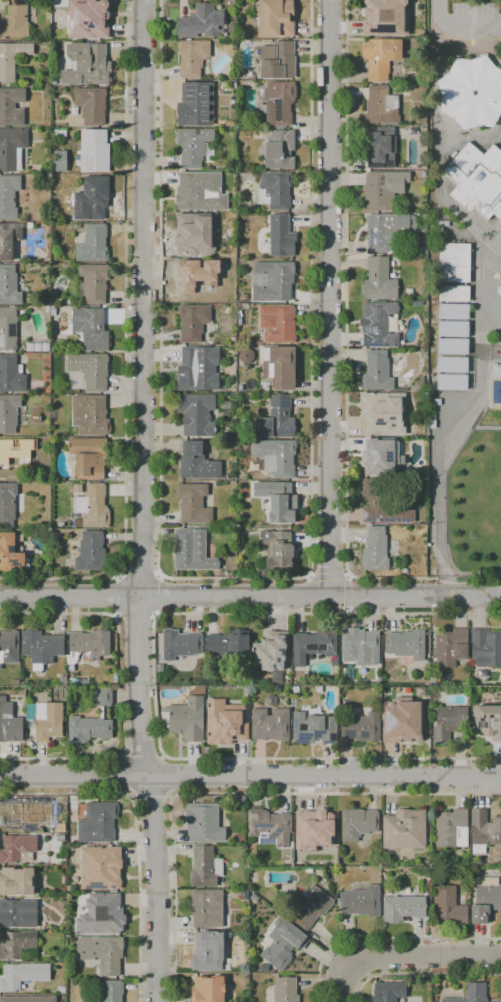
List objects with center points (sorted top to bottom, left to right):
building: (276, 18)
building: (386, 18)
building: (88, 19)
parking lot: (474, 21)
building: (14, 22)
building: (201, 22)
road: (461, 25)
building: (266, 41)
building: (192, 57)
building: (380, 57)
building: (11, 58)
building: (273, 60)
building: (87, 65)
building: (472, 92)
building: (278, 103)
building: (195, 104)
building: (91, 105)
building: (381, 106)
building: (12, 107)
rooftop solar panel: (278, 110)
building: (193, 146)
building: (379, 147)
building: (12, 148)
building: (279, 150)
building: (94, 151)
rooftop solar panel: (90, 162)
rooftop solar panel: (380, 165)
building: (477, 180)
building: (383, 189)
building: (275, 190)
building: (200, 191)
building: (8, 196)
building: (92, 198)
building: (29, 225)
building: (76, 226)
building: (387, 230)
building: (194, 234)
building: (281, 236)
building: (9, 239)
building: (93, 244)
building: (454, 262)
building: (379, 280)
building: (272, 281)
building: (93, 282)
building: (191, 282)
building: (9, 285)
building: (409, 292)
building: (453, 294)
road: (327, 297)
building: (48, 310)
building: (53, 311)
building: (453, 312)
rooftop solar panel: (81, 319)
building: (193, 321)
rooftop solar panel: (91, 322)
building: (277, 323)
building: (378, 324)
building: (91, 328)
building: (8, 329)
building: (453, 329)
rooftop solar panel: (12, 330)
rooftop solar panel: (371, 330)
rooftop solar panel: (1, 341)
rooftop solar panel: (372, 344)
rooftop solar panel: (386, 344)
building: (45, 346)
building: (453, 346)
road: (126, 347)
building: (29, 348)
building: (37, 349)
building: (246, 355)
road: (345, 364)
building: (453, 365)
building: (279, 366)
building: (198, 369)
building: (90, 370)
building: (377, 372)
building: (11, 375)
building: (451, 383)
building: (419, 386)
building: (225, 405)
building: (9, 413)
building: (384, 413)
building: (197, 414)
building: (90, 415)
building: (277, 419)
building: (24, 443)
rooftop solar panel: (390, 455)
rooftop solar panel: (378, 456)
building: (89, 457)
building: (275, 457)
building: (381, 457)
building: (7, 460)
building: (197, 462)
road: (438, 466)
building: (77, 489)
building: (278, 500)
road: (143, 501)
building: (7, 503)
building: (193, 504)
building: (382, 504)
building: (92, 506)
building: (77, 522)
building: (278, 550)
building: (375, 550)
building: (192, 551)
building: (92, 552)
building: (10, 553)
road: (472, 573)
road: (347, 575)
road: (137, 576)
road: (309, 576)
road: (328, 576)
road: (233, 579)
road: (346, 592)
road: (159, 596)
road: (250, 596)
road: (115, 597)
road: (347, 611)
road: (137, 617)
rooftop solar panel: (282, 642)
building: (228, 643)
building: (88, 644)
building: (180, 644)
building: (406, 644)
rooftop solar panel: (307, 646)
building: (316, 646)
building: (360, 646)
building: (9, 647)
rooftop solar panel: (318, 647)
building: (451, 647)
building: (41, 648)
rooftop solar panel: (262, 648)
building: (485, 648)
rooftop solar panel: (280, 650)
building: (271, 651)
rooftop solar panel: (274, 658)
rooftop solar panel: (271, 665)
building: (436, 679)
road: (153, 684)
road: (119, 690)
building: (295, 691)
building: (270, 701)
building: (188, 719)
building: (46, 720)
building: (92, 720)
rooftop solar panel: (291, 720)
building: (403, 720)
rooftop solar panel: (382, 721)
building: (487, 721)
building: (225, 722)
building: (9, 723)
building: (449, 723)
building: (271, 724)
building: (361, 727)
building: (313, 728)
rooftop solar panel: (348, 734)
rooftop solar panel: (317, 735)
rooftop solar panel: (361, 736)
rooftop solar panel: (300, 738)
road: (142, 755)
road: (124, 775)
road: (250, 776)
road: (167, 777)
road: (233, 794)
road: (150, 800)
building: (18, 817)
building: (97, 823)
building: (204, 823)
building: (357, 824)
rooftop solar panel: (260, 827)
building: (269, 827)
building: (451, 828)
building: (314, 829)
building: (405, 830)
building: (484, 831)
road: (135, 834)
rooftop solar panel: (260, 835)
rooftop solar panel: (275, 835)
building: (240, 838)
rooftop solar panel: (261, 841)
building: (16, 848)
building: (205, 867)
building: (439, 869)
building: (100, 876)
building: (437, 878)
building: (17, 881)
rooftop solar panel: (96, 886)
rooftop solar panel: (114, 888)
building: (245, 894)
building: (485, 899)
rooftop solar panel: (299, 900)
building: (361, 902)
building: (449, 906)
building: (311, 907)
building: (207, 908)
building: (402, 908)
building: (18, 913)
rooftop solar panel: (298, 914)
building: (110, 915)
road: (385, 939)
building: (283, 943)
building: (17, 945)
building: (207, 951)
building: (102, 954)
road: (403, 956)
building: (227, 967)
building: (264, 967)
road: (420, 973)
building: (22, 975)
building: (207, 989)
building: (285, 990)
building: (111, 991)
building: (388, 992)
building: (472, 993)
building: (28, 999)

